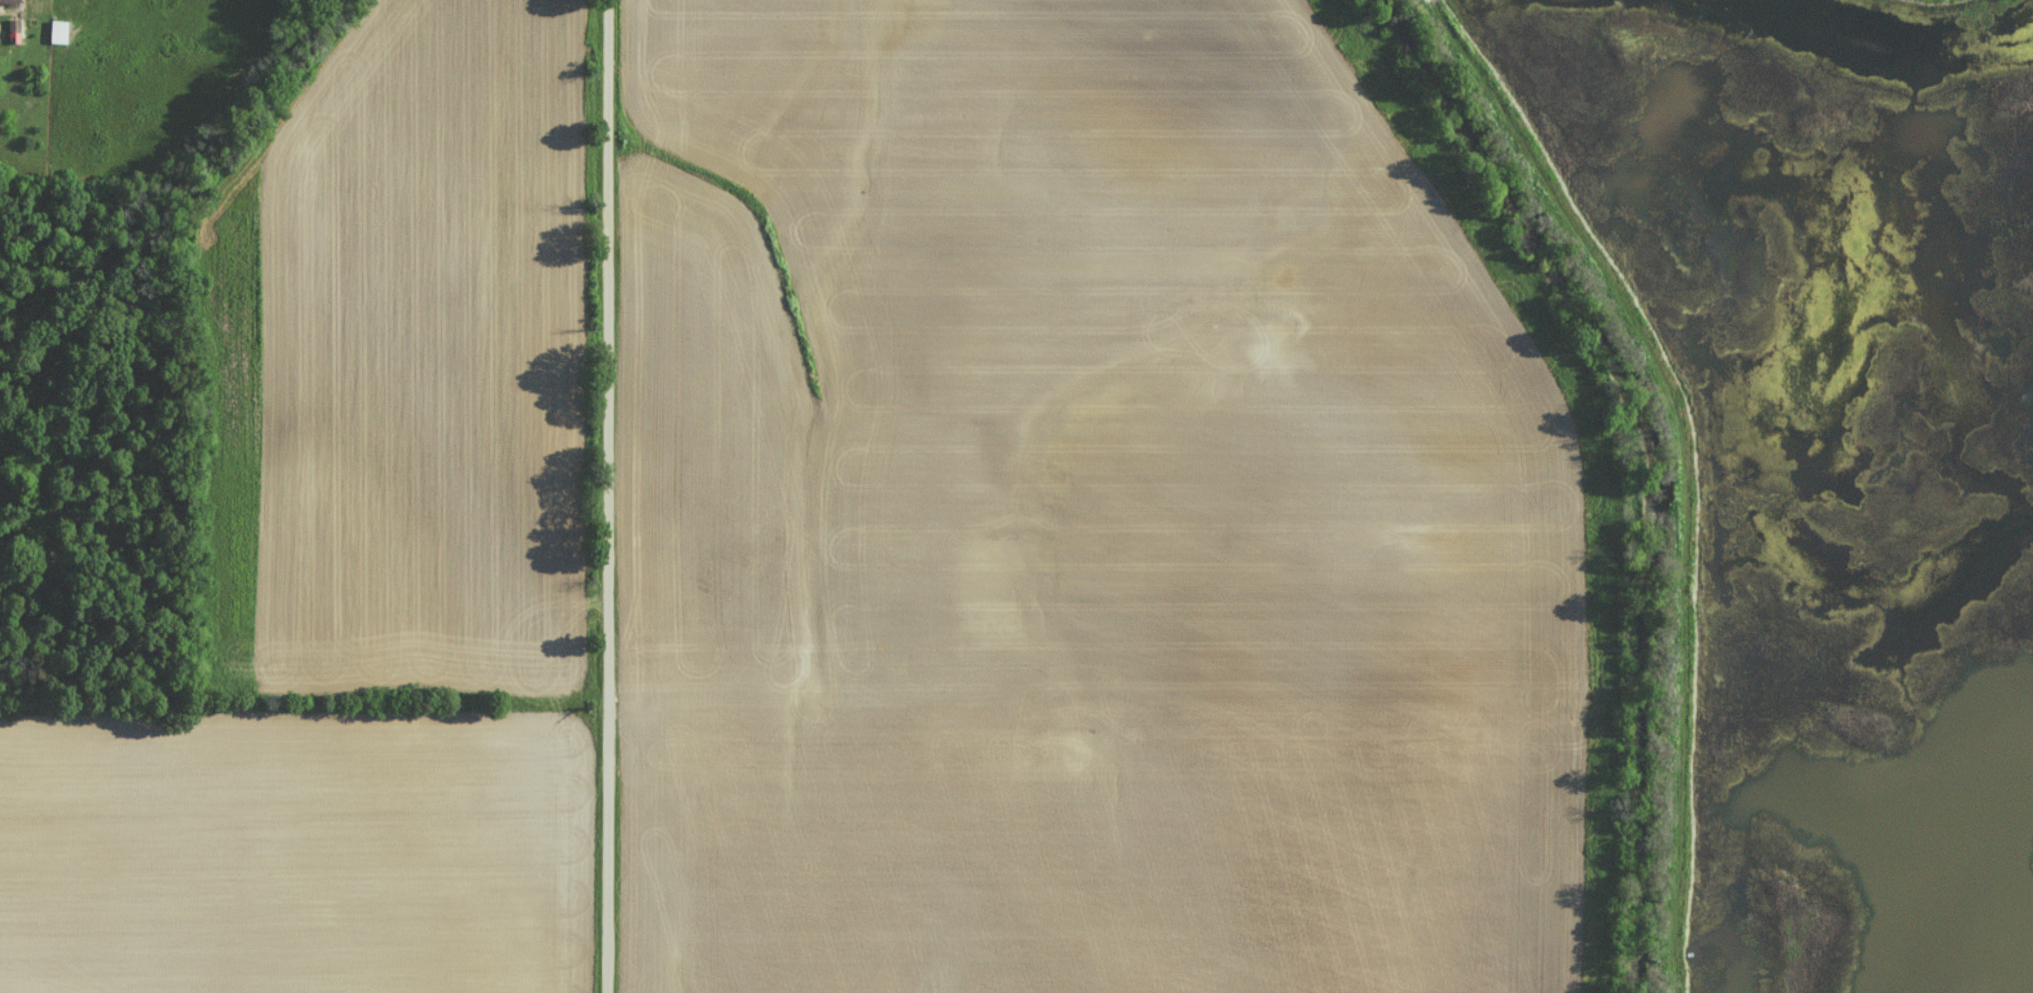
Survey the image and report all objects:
building: (7, 1)
building: (57, 32)
road: (607, 496)

